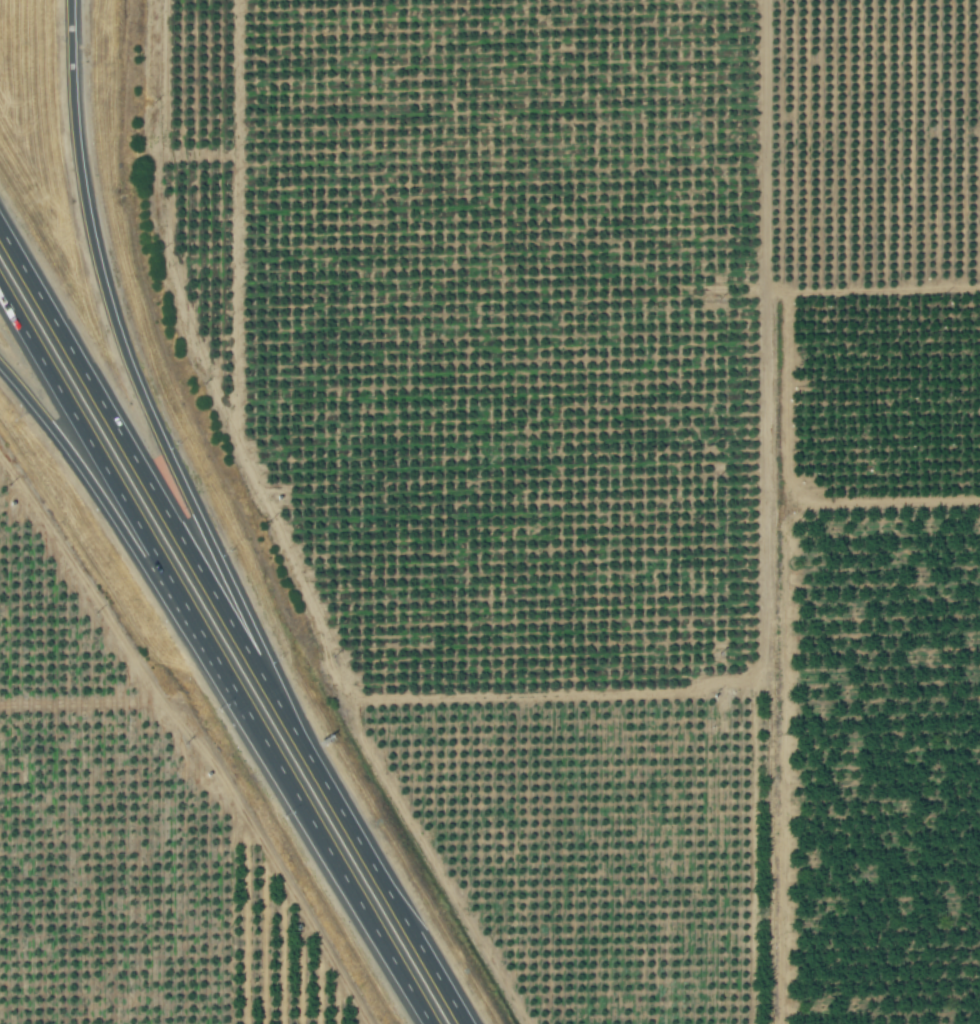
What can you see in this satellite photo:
road: (127, 362)
road: (86, 436)
road: (85, 475)
railway: (771, 512)
road: (232, 626)
road: (211, 650)
road: (339, 870)

